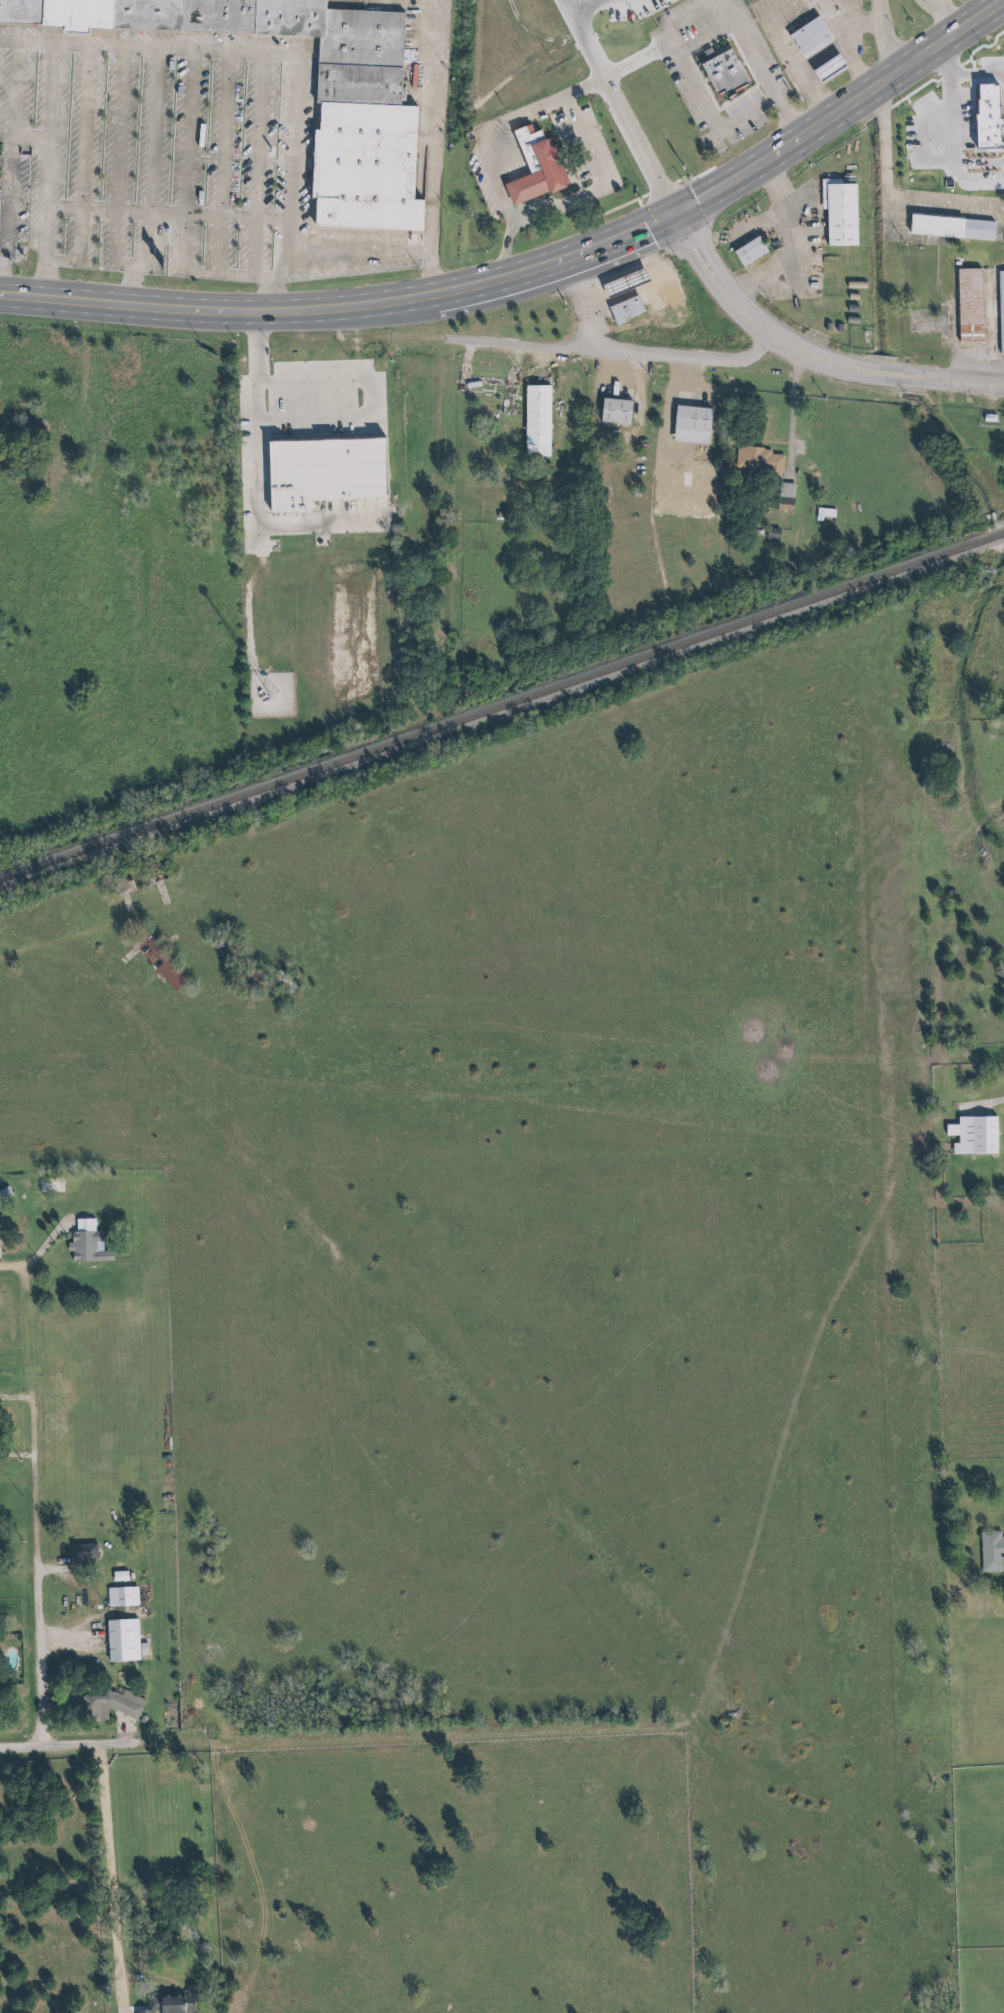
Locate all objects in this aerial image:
road: (950, 6)
road: (950, 13)
road: (690, 33)
building: (812, 37)
road: (897, 38)
road: (285, 51)
road: (981, 51)
building: (832, 67)
building: (738, 70)
building: (1001, 74)
road: (23, 88)
road: (64, 91)
road: (545, 112)
road: (596, 145)
building: (365, 152)
road: (96, 153)
road: (129, 155)
road: (166, 158)
building: (546, 160)
road: (896, 160)
road: (201, 161)
road: (237, 164)
road: (272, 165)
building: (995, 169)
road: (59, 190)
road: (951, 202)
road: (638, 203)
road: (570, 206)
traffic signals: (680, 213)
building: (850, 213)
building: (4, 221)
building: (962, 227)
building: (751, 253)
road: (171, 271)
road: (537, 275)
building: (626, 283)
road: (141, 290)
building: (971, 304)
road: (588, 307)
building: (1001, 308)
building: (627, 311)
road: (627, 355)
road: (808, 357)
building: (372, 381)
building: (328, 393)
building: (630, 410)
building: (551, 412)
building: (616, 412)
building: (538, 421)
building: (695, 422)
building: (763, 456)
building: (324, 469)
building: (485, 493)
building: (787, 499)
road: (259, 503)
building: (779, 533)
railway: (993, 539)
railway: (491, 711)
building: (127, 888)
road: (75, 932)
building: (163, 965)
building: (977, 1135)
building: (57, 1185)
building: (89, 1245)
road: (34, 1252)
building: (80, 1552)
building: (992, 1552)
road: (26, 1575)
building: (116, 1576)
building: (119, 1596)
building: (119, 1639)
building: (107, 1705)
road: (64, 1744)
road: (547, 1838)
road: (102, 1878)
building: (172, 2003)

